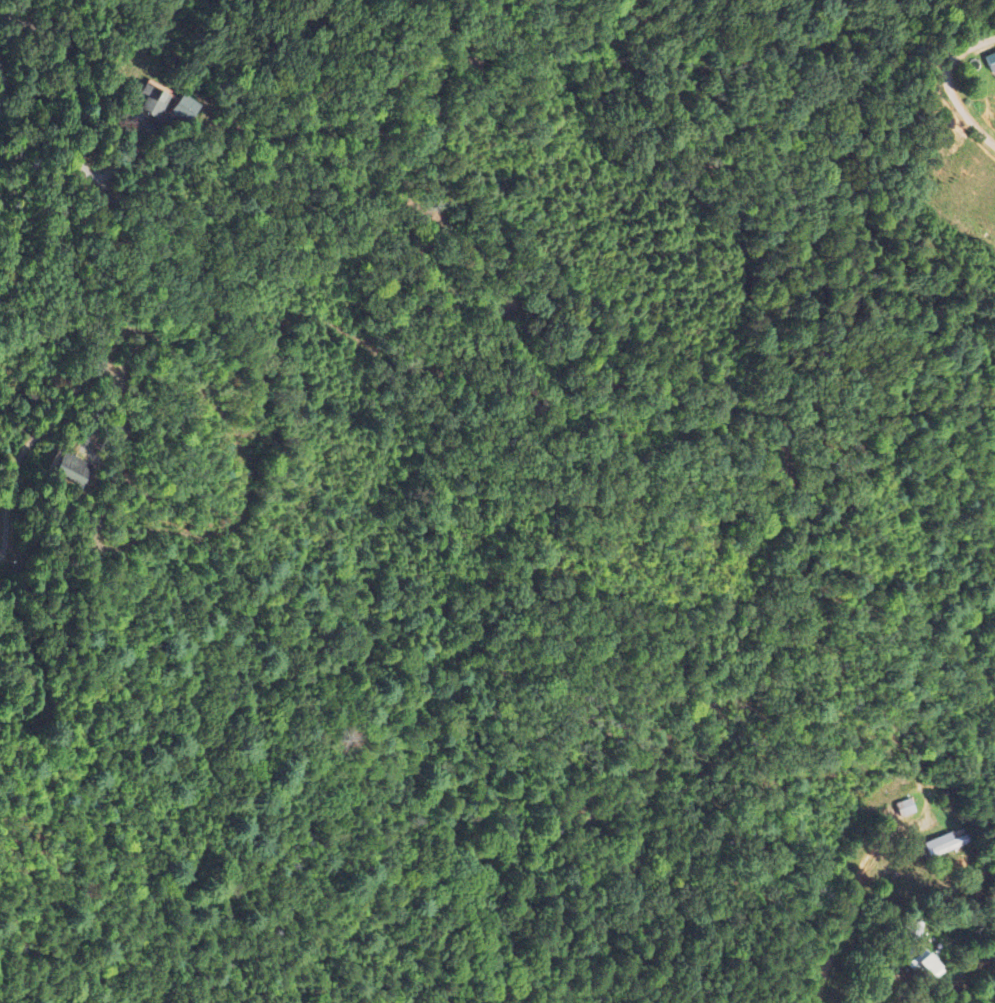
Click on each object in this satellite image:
building: (990, 62)
road: (2, 100)
building: (152, 102)
building: (182, 109)
building: (74, 472)
road: (6, 476)
road: (6, 501)
building: (904, 808)
building: (943, 845)
building: (928, 966)

